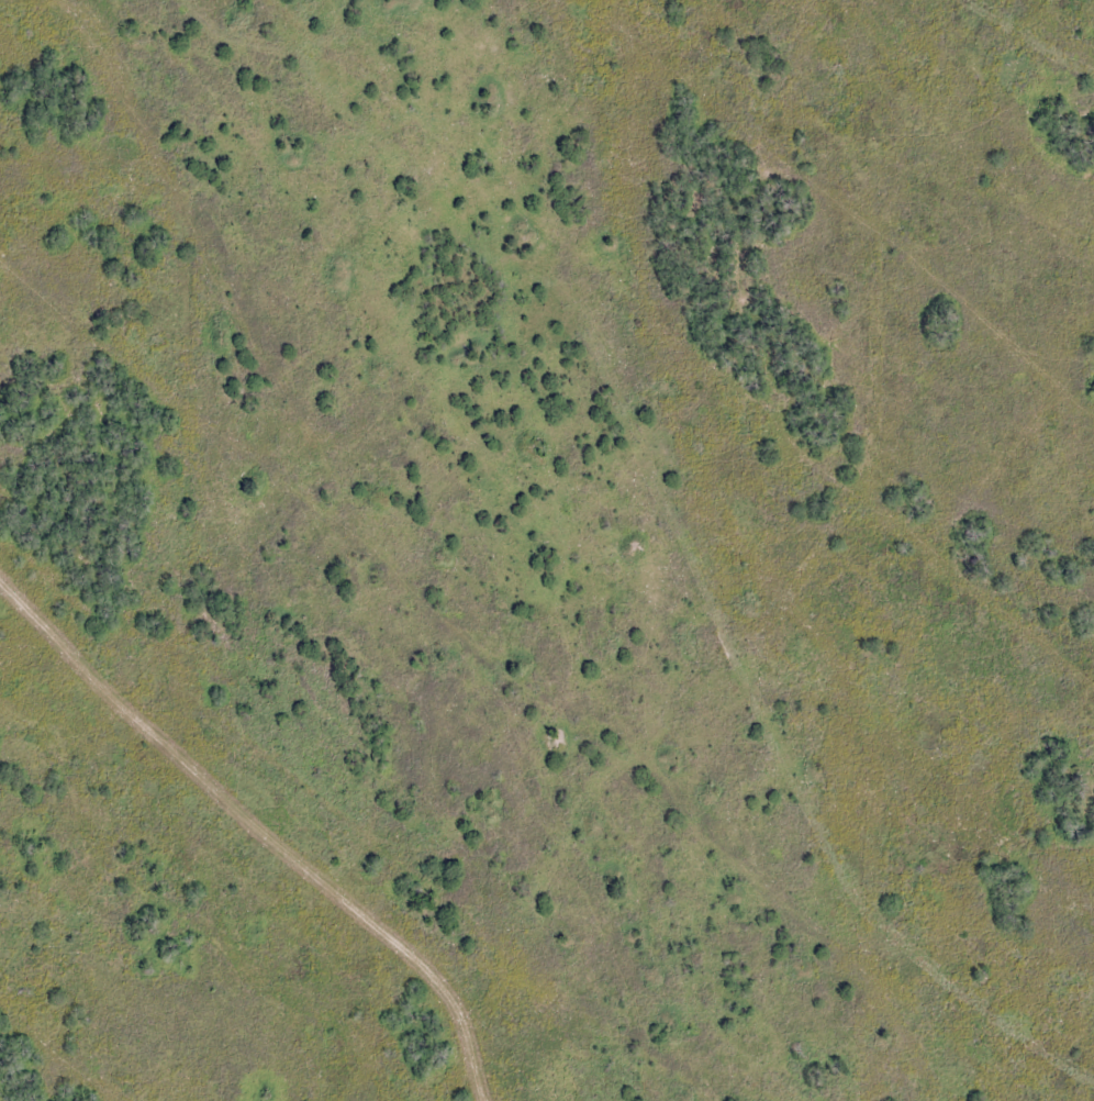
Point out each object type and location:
road: (306, 836)

